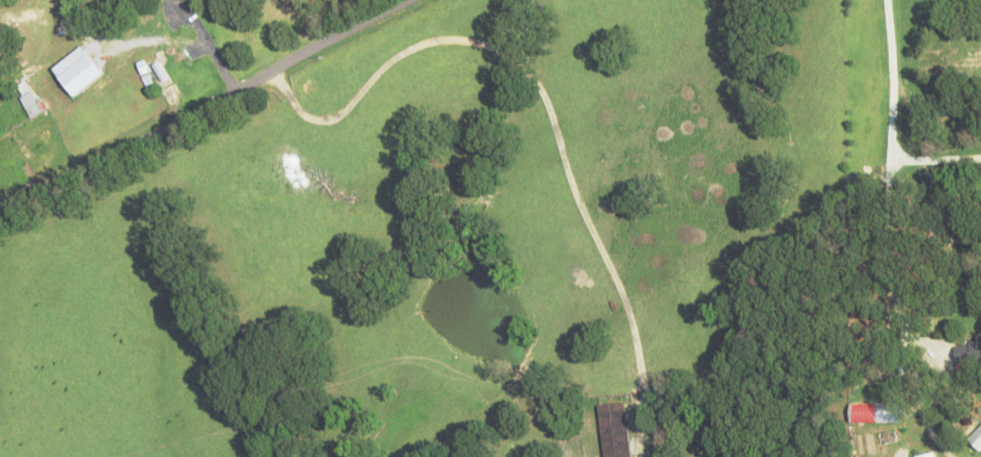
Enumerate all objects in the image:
road: (195, 102)
building: (31, 107)
building: (43, 129)
road: (891, 177)
building: (969, 354)
building: (615, 431)
building: (977, 440)
building: (932, 456)

